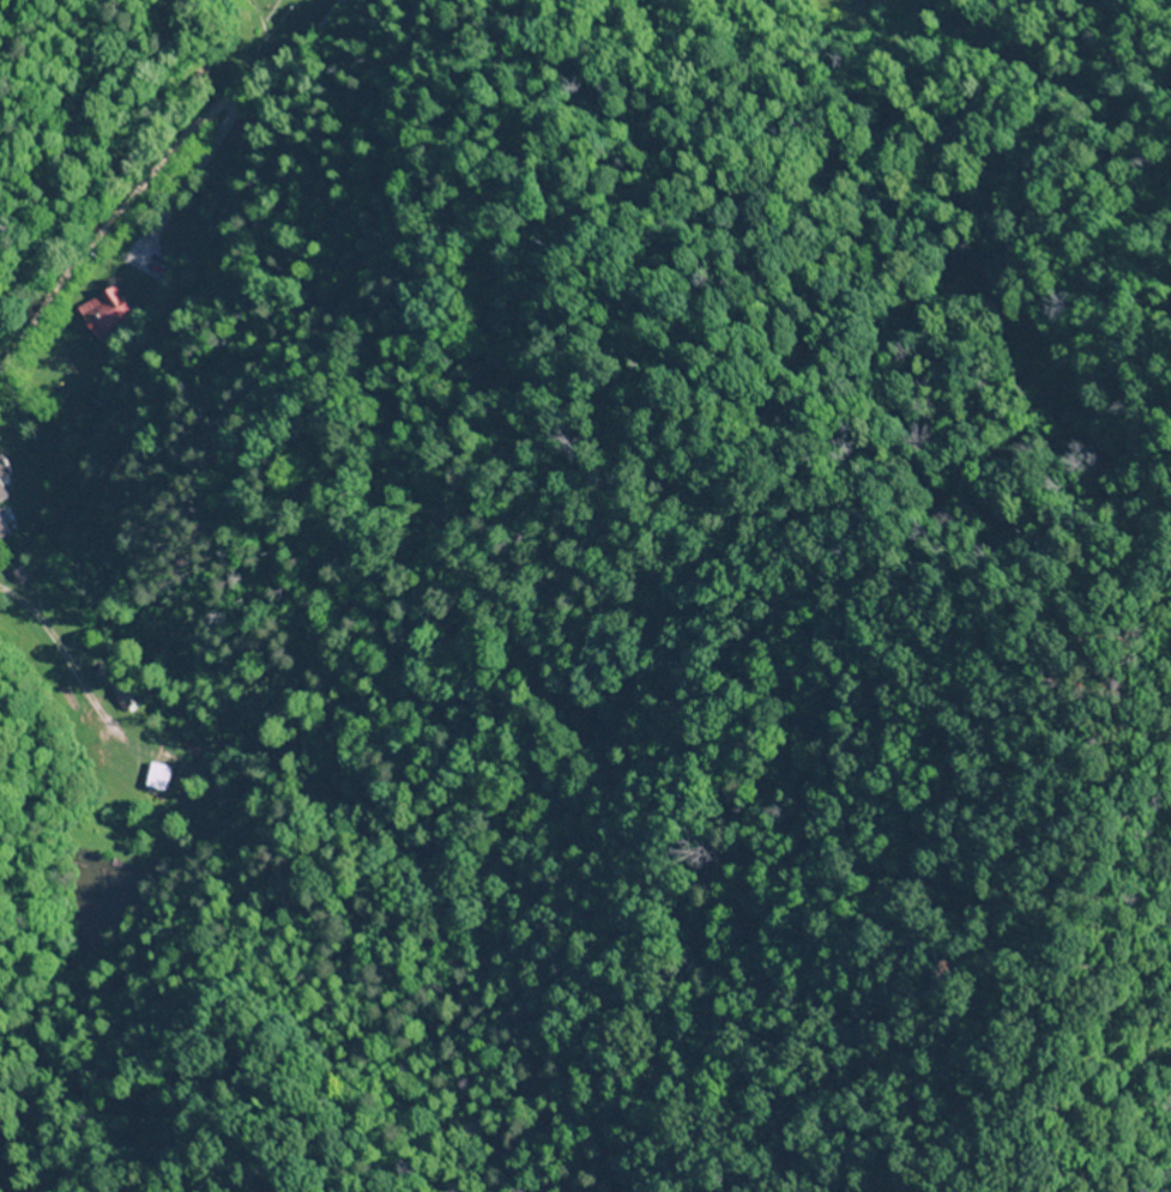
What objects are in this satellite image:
road: (158, 171)
building: (101, 315)
building: (4, 488)
building: (2, 527)
building: (123, 697)
building: (153, 777)

